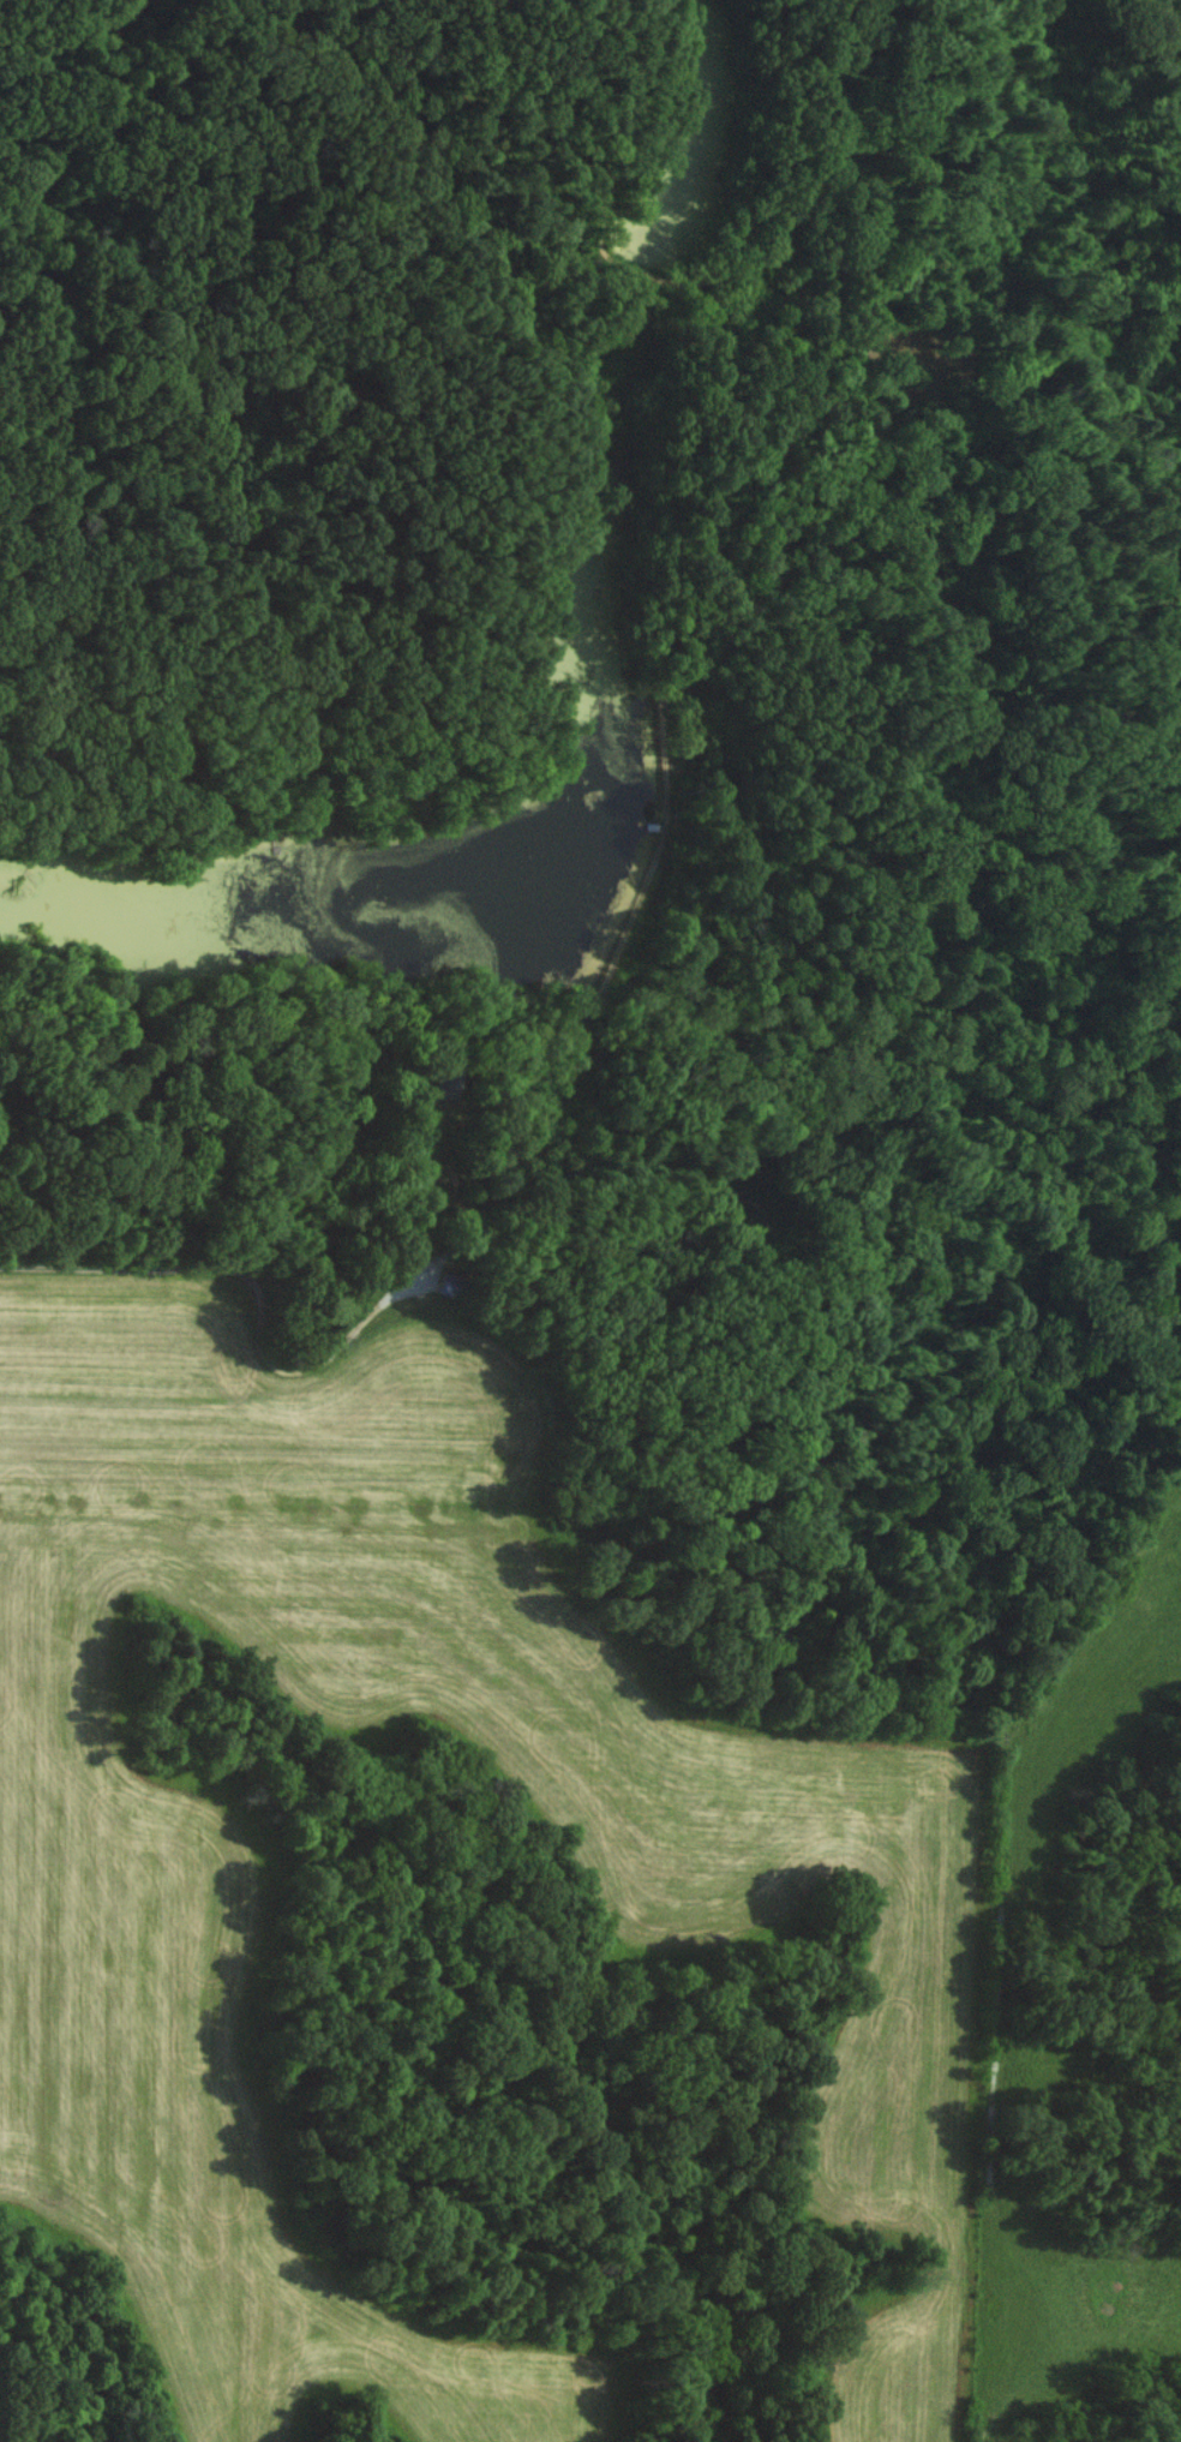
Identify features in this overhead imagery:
building: (449, 1082)
road: (259, 1281)

